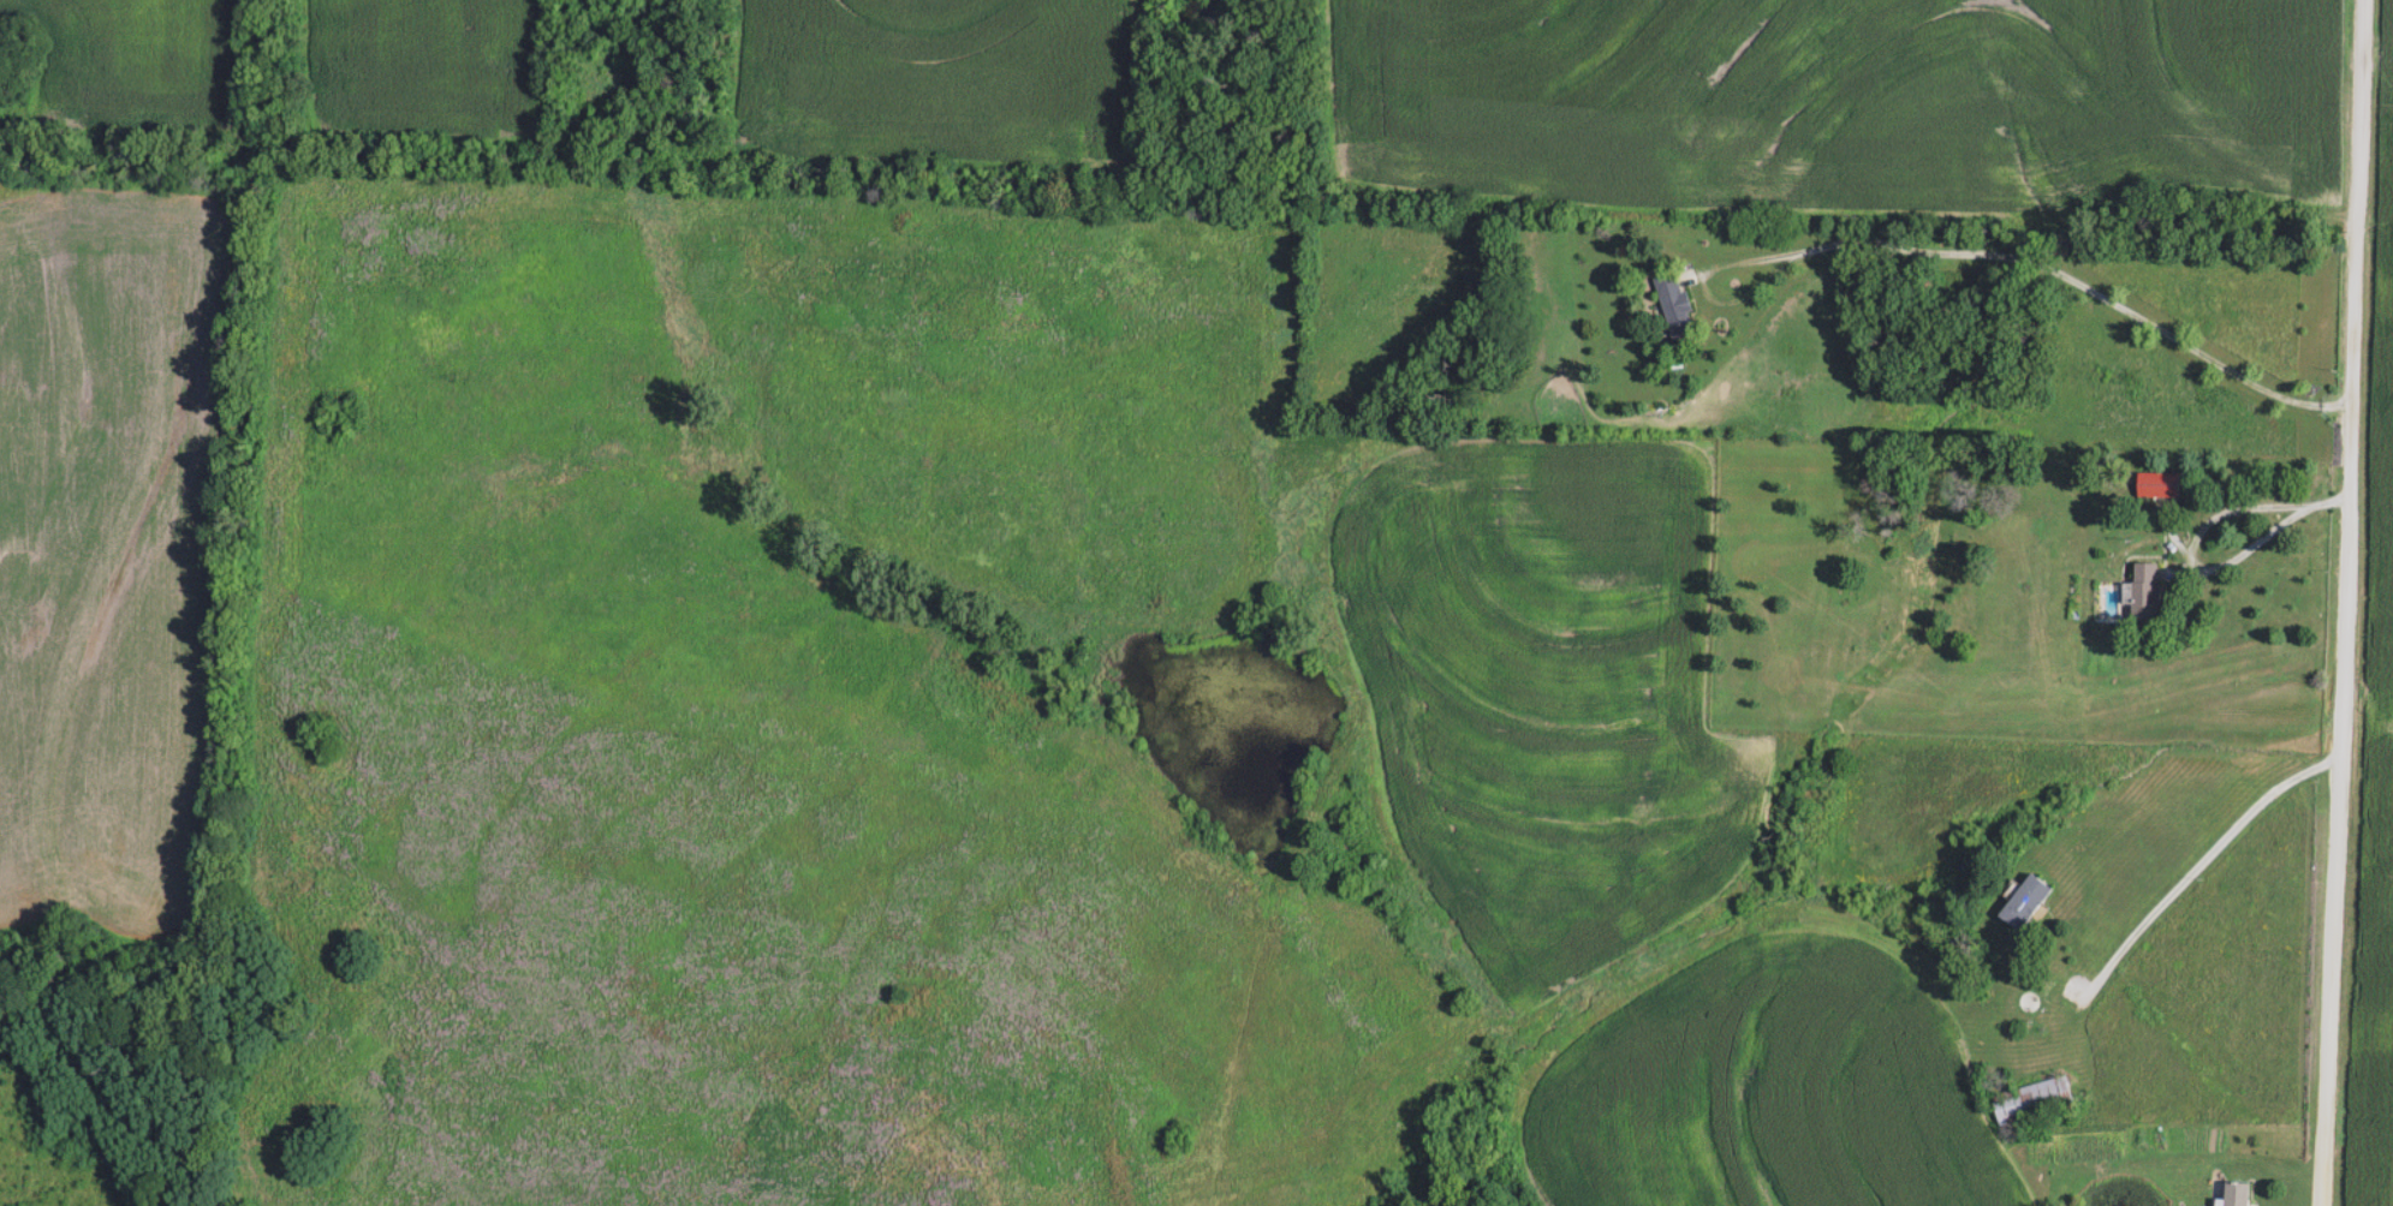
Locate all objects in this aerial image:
road: (1978, 251)
building: (1679, 308)
building: (2159, 485)
road: (2323, 498)
road: (2238, 506)
building: (2149, 593)
road: (2344, 603)
road: (2189, 873)
building: (2029, 901)
building: (2036, 1100)
building: (2239, 1194)

